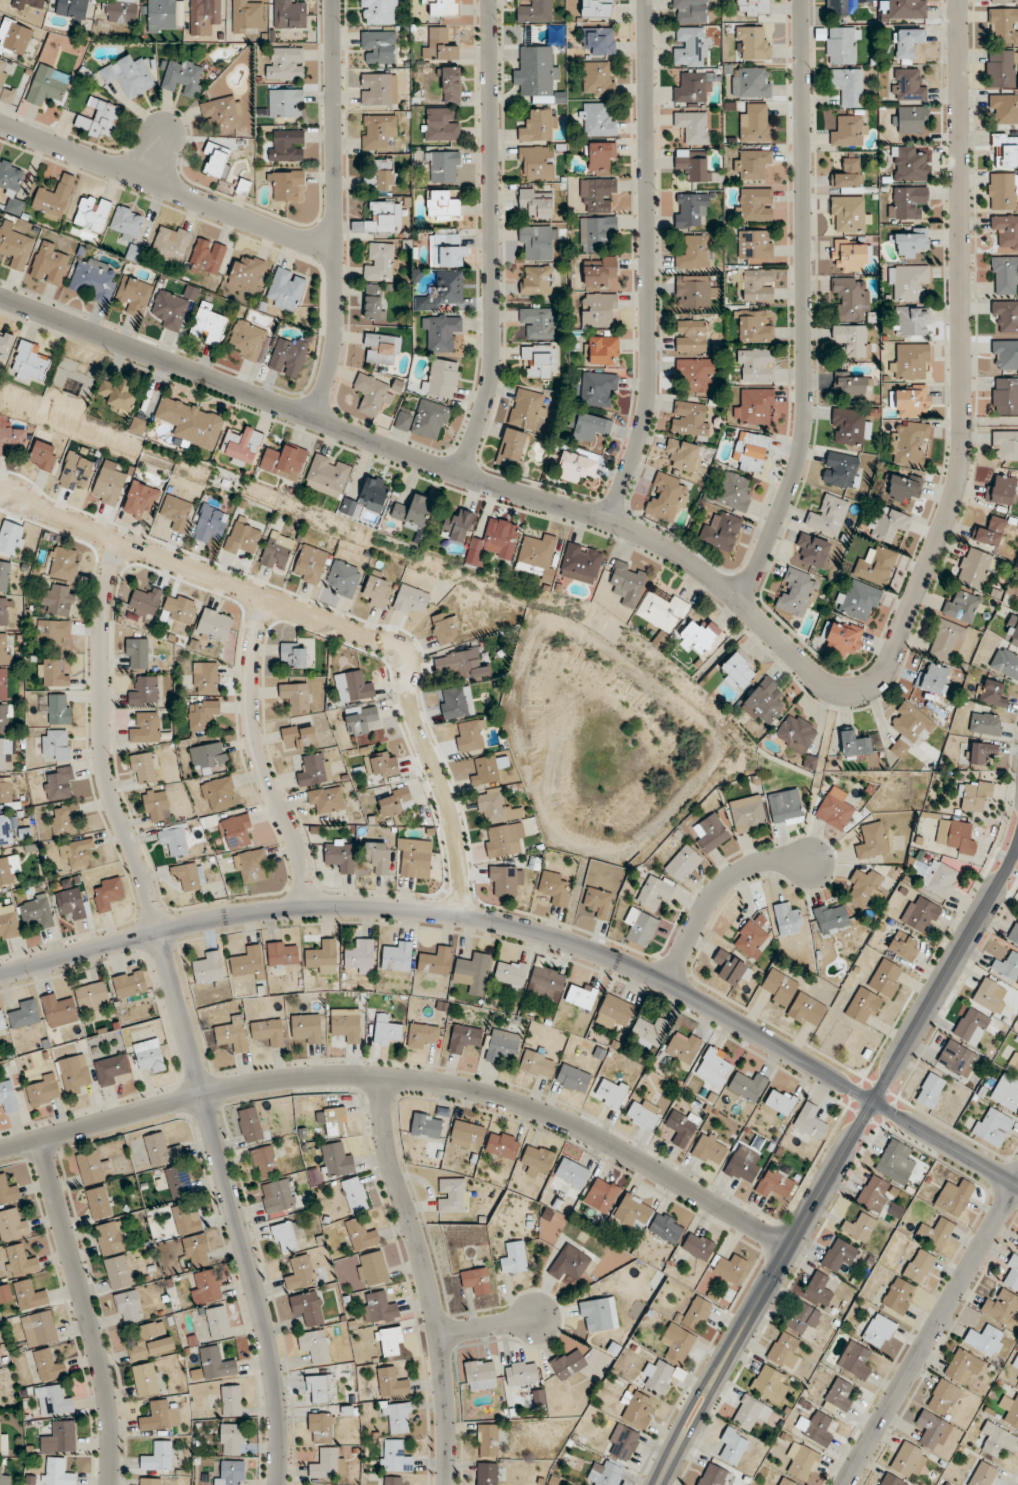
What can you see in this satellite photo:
building: (1003, 1)
building: (30, 4)
building: (442, 7)
building: (753, 7)
building: (841, 7)
building: (72, 8)
building: (597, 8)
building: (904, 9)
building: (121, 11)
building: (378, 11)
building: (534, 11)
building: (690, 11)
building: (205, 13)
building: (162, 14)
building: (289, 15)
building: (247, 16)
building: (1003, 25)
building: (14, 37)
building: (598, 40)
building: (752, 43)
building: (438, 44)
building: (906, 44)
building: (842, 45)
building: (378, 46)
building: (690, 46)
building: (285, 63)
building: (1001, 68)
building: (2, 73)
building: (129, 75)
building: (538, 75)
building: (182, 77)
building: (598, 78)
building: (751, 81)
building: (451, 84)
building: (908, 84)
building: (48, 85)
building: (847, 85)
building: (691, 87)
building: (378, 88)
building: (285, 102)
building: (1003, 109)
building: (223, 112)
building: (99, 119)
building: (911, 119)
building: (597, 120)
building: (754, 122)
building: (441, 123)
building: (539, 125)
building: (694, 126)
building: (377, 131)
building: (850, 131)
building: (286, 145)
building: (1007, 149)
building: (600, 158)
building: (216, 159)
building: (536, 161)
building: (752, 163)
building: (908, 164)
building: (692, 165)
building: (443, 166)
building: (849, 175)
building: (381, 176)
building: (286, 184)
building: (12, 186)
road: (166, 188)
building: (597, 195)
building: (55, 198)
building: (906, 201)
building: (536, 202)
building: (755, 204)
building: (442, 205)
building: (690, 209)
road: (335, 210)
building: (0, 212)
building: (92, 212)
building: (849, 213)
building: (381, 218)
building: (128, 229)
building: (596, 232)
road: (493, 239)
building: (538, 241)
building: (911, 241)
building: (170, 243)
building: (755, 244)
building: (15, 247)
building: (445, 249)
building: (696, 252)
building: (851, 255)
building: (206, 258)
building: (381, 261)
road: (649, 262)
building: (49, 263)
building: (599, 271)
building: (247, 273)
building: (1004, 274)
building: (535, 279)
building: (93, 281)
building: (907, 281)
building: (756, 284)
building: (286, 289)
building: (694, 291)
building: (442, 292)
building: (134, 295)
building: (849, 300)
building: (374, 302)
road: (804, 306)
building: (598, 309)
building: (169, 310)
building: (1006, 316)
building: (912, 321)
building: (538, 322)
building: (208, 325)
building: (754, 327)
building: (440, 330)
building: (691, 335)
building: (246, 339)
building: (852, 340)
building: (5, 345)
building: (382, 348)
building: (603, 350)
building: (1006, 355)
building: (288, 357)
building: (540, 360)
building: (30, 362)
building: (910, 362)
building: (756, 364)
building: (696, 374)
building: (442, 378)
building: (851, 385)
building: (598, 389)
building: (374, 393)
building: (118, 395)
building: (1005, 396)
building: (910, 400)
building: (755, 407)
building: (527, 409)
building: (690, 418)
building: (425, 420)
building: (191, 421)
building: (138, 425)
building: (849, 426)
building: (590, 427)
building: (11, 435)
building: (909, 444)
building: (1005, 445)
building: (242, 446)
building: (511, 448)
building: (750, 451)
building: (683, 454)
building: (43, 456)
building: (284, 462)
building: (577, 466)
building: (842, 470)
building: (76, 471)
building: (327, 475)
building: (109, 484)
building: (904, 486)
building: (1001, 490)
building: (734, 491)
building: (373, 494)
building: (666, 498)
building: (141, 499)
building: (413, 510)
building: (176, 513)
building: (828, 515)
building: (210, 523)
building: (888, 525)
building: (456, 526)
building: (720, 530)
building: (991, 531)
building: (243, 536)
building: (12, 538)
building: (494, 541)
building: (812, 549)
building: (277, 551)
building: (540, 552)
building: (63, 563)
building: (581, 563)
building: (310, 564)
building: (877, 565)
building: (975, 568)
building: (4, 574)
building: (343, 578)
building: (627, 582)
building: (376, 591)
building: (797, 593)
building: (58, 599)
building: (410, 599)
building: (146, 601)
building: (859, 601)
building: (963, 606)
building: (179, 609)
building: (4, 611)
building: (662, 611)
road: (328, 621)
building: (214, 624)
road: (763, 624)
building: (445, 626)
building: (53, 631)
building: (698, 636)
building: (843, 637)
building: (946, 641)
building: (4, 648)
building: (137, 653)
building: (294, 654)
building: (1006, 662)
building: (461, 664)
building: (738, 670)
building: (52, 672)
building: (205, 677)
building: (933, 679)
building: (3, 683)
building: (353, 686)
building: (144, 691)
building: (991, 693)
building: (294, 696)
building: (765, 700)
building: (456, 702)
building: (58, 708)
building: (202, 713)
building: (3, 718)
building: (362, 721)
building: (985, 724)
building: (909, 727)
building: (145, 728)
building: (796, 733)
building: (470, 735)
building: (300, 736)
building: (56, 744)
building: (855, 745)
building: (982, 752)
building: (5, 753)
road: (259, 756)
building: (209, 757)
building: (383, 764)
building: (143, 768)
building: (314, 769)
building: (489, 769)
building: (59, 783)
building: (5, 789)
building: (219, 794)
building: (974, 795)
building: (326, 800)
building: (396, 802)
building: (156, 804)
building: (496, 807)
building: (785, 807)
building: (835, 809)
building: (748, 813)
building: (64, 819)
building: (5, 829)
building: (237, 831)
building: (711, 833)
building: (955, 835)
building: (174, 839)
building: (501, 840)
building: (872, 840)
building: (76, 851)
building: (340, 855)
building: (378, 857)
building: (414, 858)
building: (683, 863)
building: (251, 866)
building: (8, 870)
building: (190, 875)
building: (938, 877)
building: (505, 880)
building: (554, 887)
building: (865, 888)
road: (716, 890)
building: (654, 892)
building: (107, 894)
building: (598, 901)
building: (71, 903)
building: (37, 912)
building: (920, 914)
building: (787, 919)
building: (830, 919)
building: (8, 920)
building: (640, 927)
road: (535, 933)
building: (752, 938)
building: (904, 946)
building: (283, 953)
building: (398, 956)
building: (322, 957)
building: (360, 957)
building: (436, 961)
building: (249, 962)
building: (474, 966)
building: (1008, 966)
building: (209, 967)
building: (731, 968)
building: (510, 973)
building: (886, 978)
building: (547, 982)
building: (130, 984)
building: (779, 987)
building: (581, 995)
building: (92, 996)
building: (990, 996)
building: (863, 1005)
building: (805, 1009)
building: (59, 1010)
building: (614, 1011)
road: (181, 1013)
building: (25, 1014)
building: (2, 1020)
building: (346, 1024)
building: (971, 1026)
building: (306, 1028)
building: (386, 1030)
building: (268, 1032)
building: (649, 1032)
building: (232, 1035)
building: (422, 1035)
building: (464, 1039)
building: (502, 1045)
building: (683, 1048)
building: (150, 1055)
building: (957, 1058)
building: (537, 1064)
building: (714, 1066)
building: (111, 1069)
building: (1017, 1071)
building: (75, 1073)
road: (410, 1078)
building: (573, 1078)
building: (748, 1086)
building: (43, 1090)
building: (930, 1090)
building: (610, 1092)
building: (1006, 1092)
building: (8, 1096)
building: (780, 1101)
building: (644, 1114)
building: (335, 1121)
building: (810, 1122)
building: (250, 1124)
building: (426, 1125)
building: (992, 1126)
building: (682, 1127)
building: (467, 1134)
building: (503, 1145)
building: (158, 1148)
building: (710, 1149)
building: (538, 1157)
building: (336, 1160)
building: (264, 1161)
building: (895, 1162)
building: (743, 1165)
road: (837, 1165)
building: (93, 1169)
building: (572, 1173)
building: (178, 1181)
building: (775, 1183)
building: (8, 1191)
building: (874, 1193)
building: (354, 1194)
building: (603, 1194)
building: (452, 1195)
building: (278, 1197)
building: (954, 1197)
building: (99, 1203)
building: (633, 1211)
building: (186, 1220)
building: (12, 1225)
building: (666, 1227)
building: (858, 1227)
building: (936, 1231)
building: (360, 1234)
building: (284, 1236)
building: (112, 1237)
building: (698, 1245)
building: (197, 1250)
building: (838, 1255)
building: (514, 1258)
building: (20, 1261)
building: (569, 1263)
building: (919, 1266)
building: (372, 1268)
building: (732, 1268)
building: (117, 1271)
building: (300, 1272)
road: (426, 1278)
building: (477, 1280)
building: (1017, 1280)
building: (208, 1286)
building: (819, 1289)
building: (5, 1293)
building: (29, 1294)
building: (898, 1296)
building: (129, 1306)
building: (1001, 1306)
building: (308, 1307)
building: (378, 1307)
road: (86, 1310)
building: (697, 1313)
building: (598, 1314)
building: (803, 1317)
building: (218, 1321)
road: (487, 1326)
building: (39, 1328)
building: (878, 1331)
road: (931, 1336)
building: (984, 1338)
building: (391, 1341)
building: (149, 1342)
building: (677, 1343)
building: (315, 1345)
building: (785, 1352)
building: (855, 1359)
building: (216, 1363)
building: (568, 1363)
building: (48, 1365)
building: (963, 1367)
building: (521, 1373)
building: (480, 1374)
building: (659, 1375)
building: (145, 1379)
building: (1017, 1380)
building: (392, 1382)
building: (770, 1384)
building: (317, 1389)
building: (839, 1396)
building: (943, 1397)
building: (231, 1400)
building: (53, 1401)
building: (638, 1410)
building: (751, 1413)
building: (398, 1415)
building: (159, 1416)
building: (320, 1427)
building: (815, 1427)
building: (932, 1430)
building: (0, 1436)
building: (59, 1437)
building: (231, 1439)
building: (488, 1439)
building: (997, 1440)
building: (623, 1442)
building: (733, 1445)
building: (157, 1456)
building: (395, 1456)
building: (909, 1460)
building: (328, 1464)
building: (804, 1464)
building: (57, 1472)
building: (232, 1472)
building: (487, 1473)
building: (606, 1474)
building: (983, 1474)
building: (713, 1475)
building: (3, 1478)
building: (892, 1480)
building: (150, 1481)
building: (393, 1481)
building: (787, 1482)

